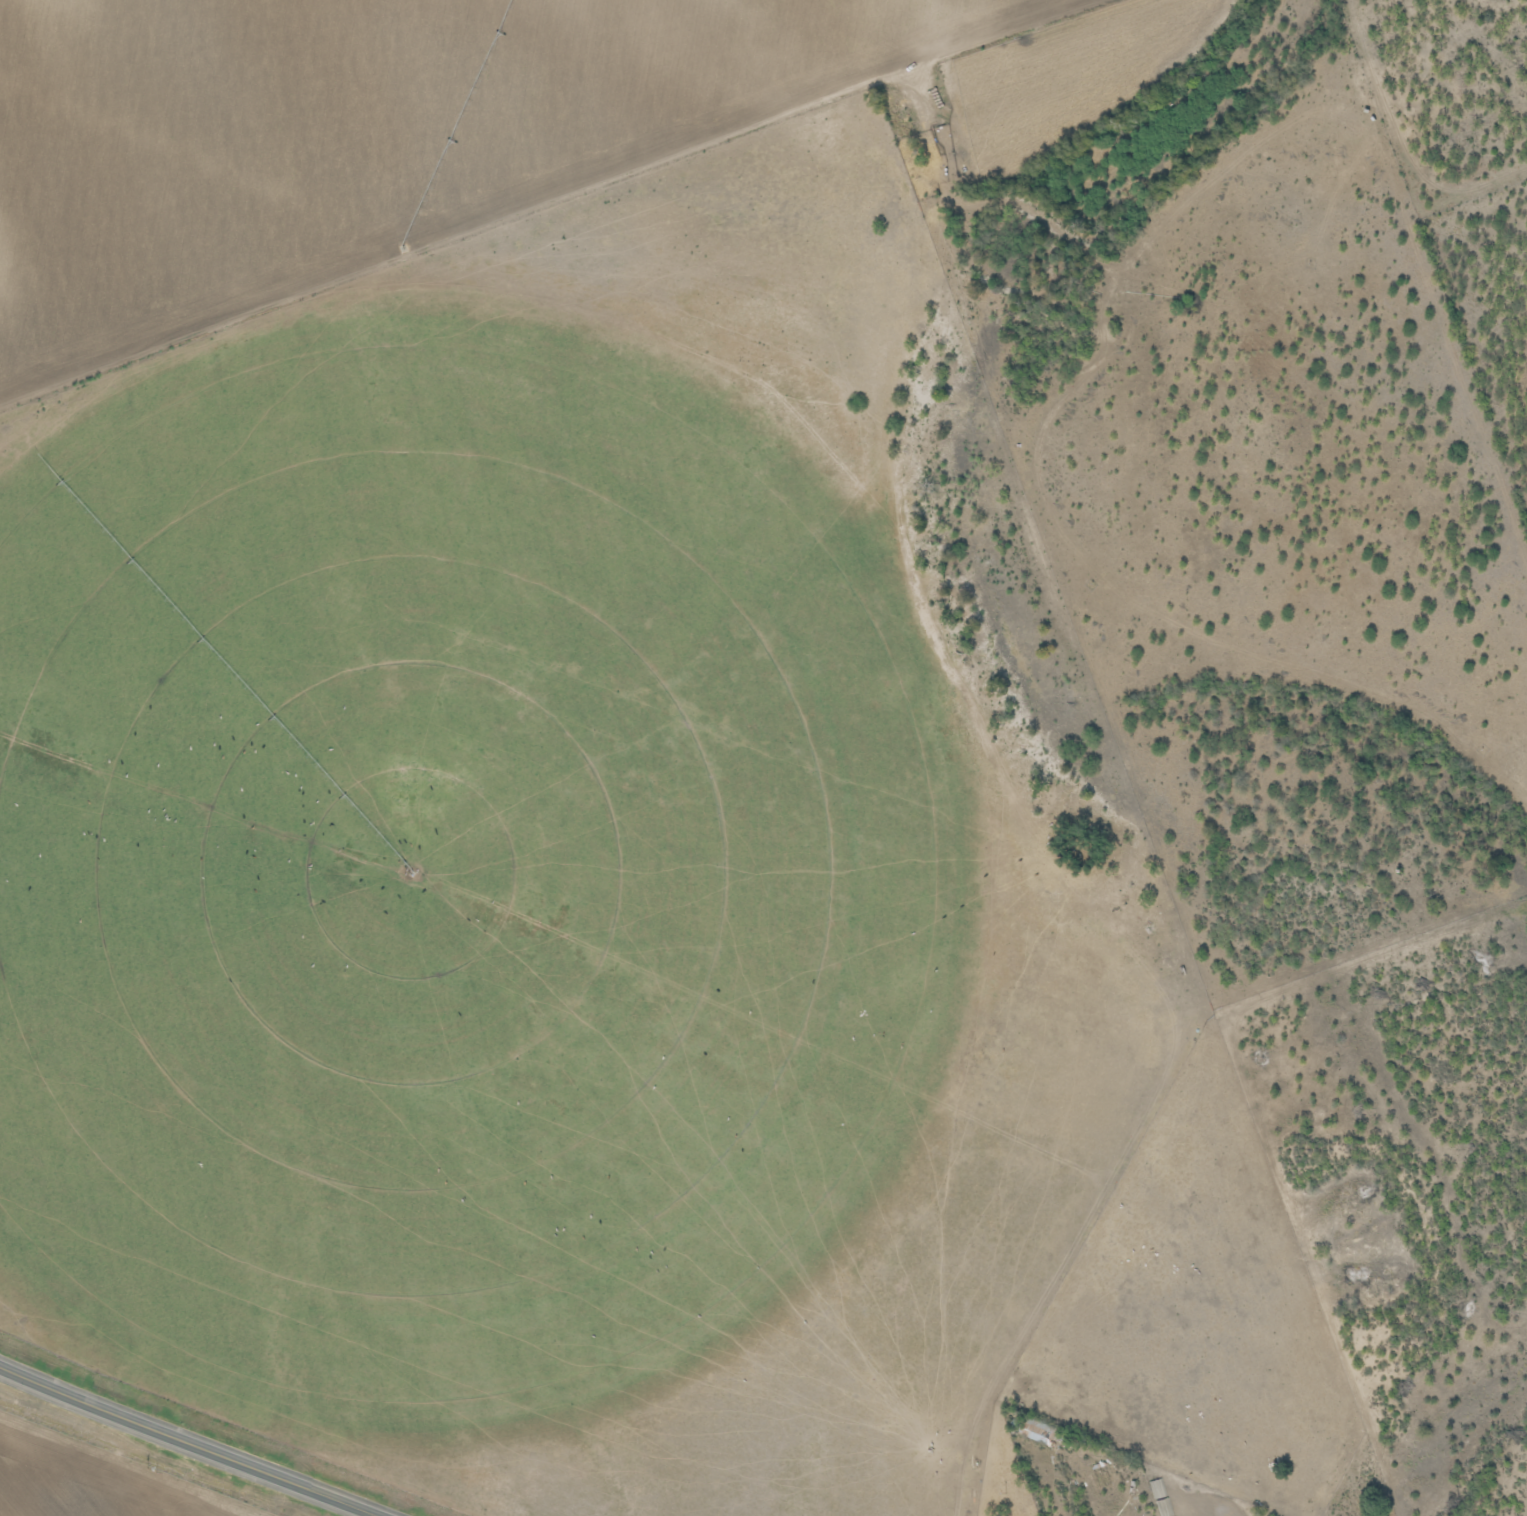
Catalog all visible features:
building: (1039, 1433)
road: (187, 1443)
railway: (138, 1463)

